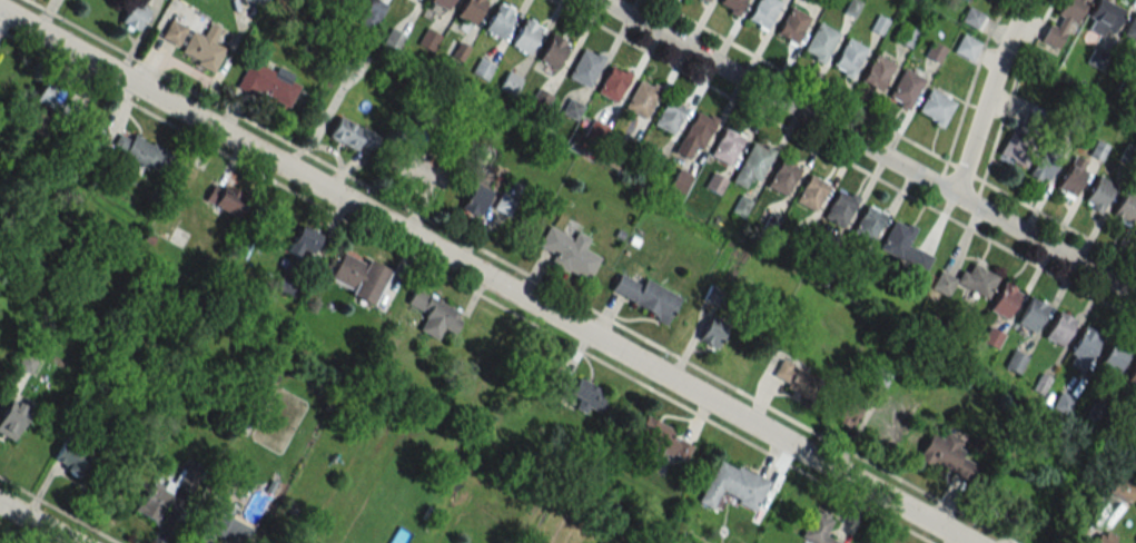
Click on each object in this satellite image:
building: (705, 0)
building: (345, 1)
building: (257, 2)
building: (441, 3)
building: (731, 3)
building: (850, 7)
building: (373, 8)
building: (470, 10)
building: (762, 11)
building: (135, 14)
building: (970, 17)
building: (1104, 18)
building: (498, 20)
building: (1063, 22)
building: (791, 24)
building: (1130, 28)
building: (172, 32)
building: (525, 34)
building: (905, 36)
building: (393, 39)
building: (428, 40)
building: (819, 41)
building: (965, 47)
building: (202, 48)
building: (553, 50)
building: (934, 51)
building: (848, 57)
building: (584, 67)
building: (482, 69)
building: (876, 71)
road: (971, 79)
building: (267, 82)
building: (510, 83)
building: (612, 83)
road: (1011, 87)
building: (905, 88)
road: (987, 95)
building: (47, 96)
building: (641, 98)
building: (540, 99)
building: (935, 107)
building: (571, 109)
building: (669, 116)
building: (595, 131)
road: (893, 132)
building: (350, 134)
building: (694, 135)
building: (725, 146)
road: (869, 146)
building: (1020, 146)
building: (140, 151)
building: (616, 159)
building: (753, 160)
road: (844, 160)
building: (1045, 164)
building: (418, 171)
building: (782, 177)
building: (680, 179)
building: (1070, 180)
building: (714, 184)
building: (811, 192)
building: (1099, 194)
building: (226, 199)
building: (475, 200)
building: (504, 204)
building: (1125, 207)
building: (839, 208)
building: (868, 224)
building: (797, 236)
building: (895, 238)
building: (302, 241)
building: (567, 251)
building: (822, 255)
road: (522, 271)
road: (490, 275)
building: (358, 277)
building: (976, 279)
road: (465, 286)
building: (645, 296)
building: (1005, 299)
building: (434, 314)
building: (1031, 315)
building: (1059, 328)
building: (712, 332)
building: (1085, 345)
building: (1113, 358)
building: (1015, 361)
building: (1132, 377)
building: (797, 379)
building: (879, 379)
building: (585, 395)
building: (844, 411)
building: (13, 418)
building: (662, 437)
building: (72, 455)
building: (947, 455)
building: (733, 486)
building: (1123, 487)
building: (152, 502)
road: (59, 510)
road: (38, 522)
building: (219, 525)
building: (817, 529)
road: (17, 533)
building: (1105, 537)

